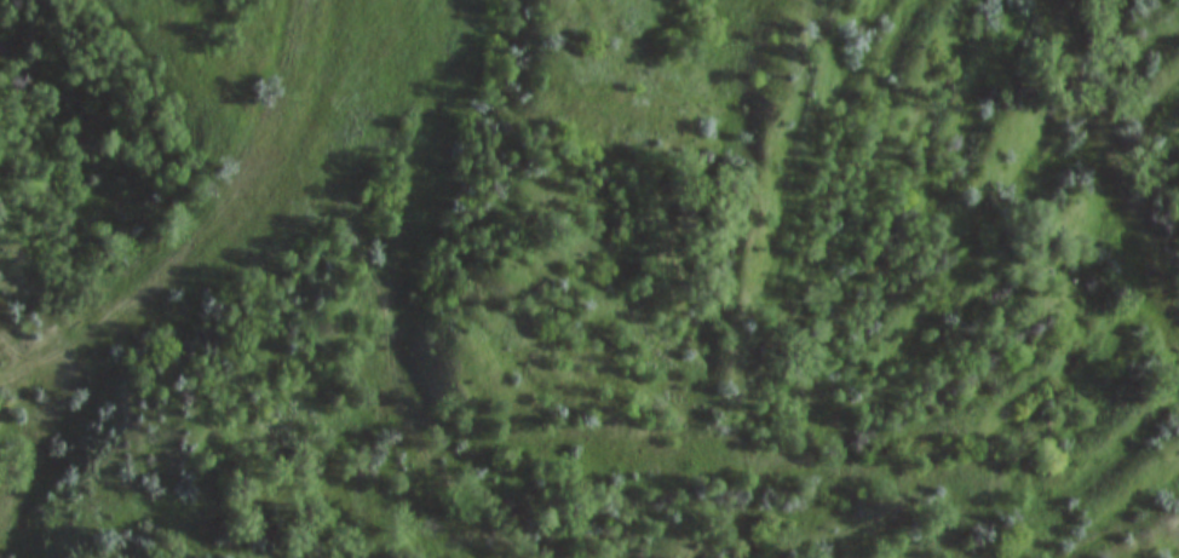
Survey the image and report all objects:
road: (237, 184)
quarry: (589, 278)
road: (387, 292)
road: (51, 349)
road: (44, 430)

